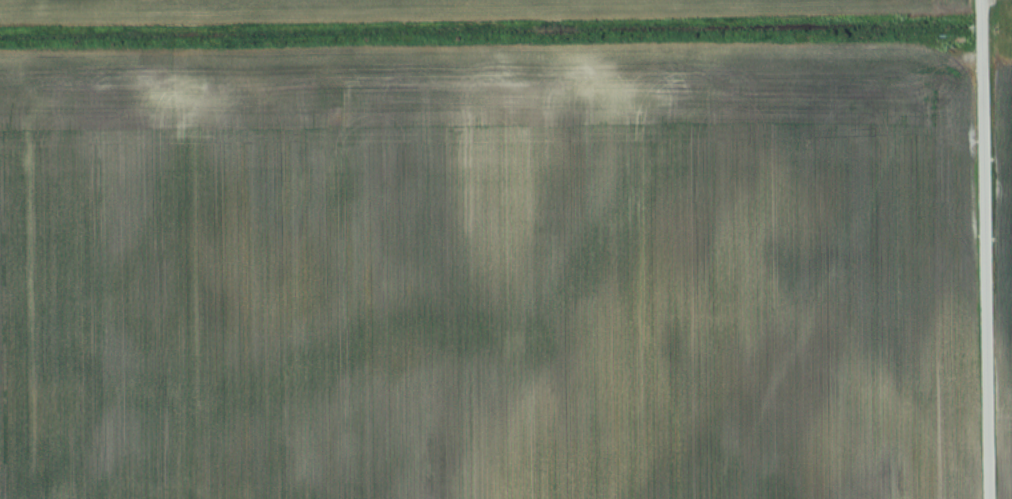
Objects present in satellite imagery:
road: (985, 249)

